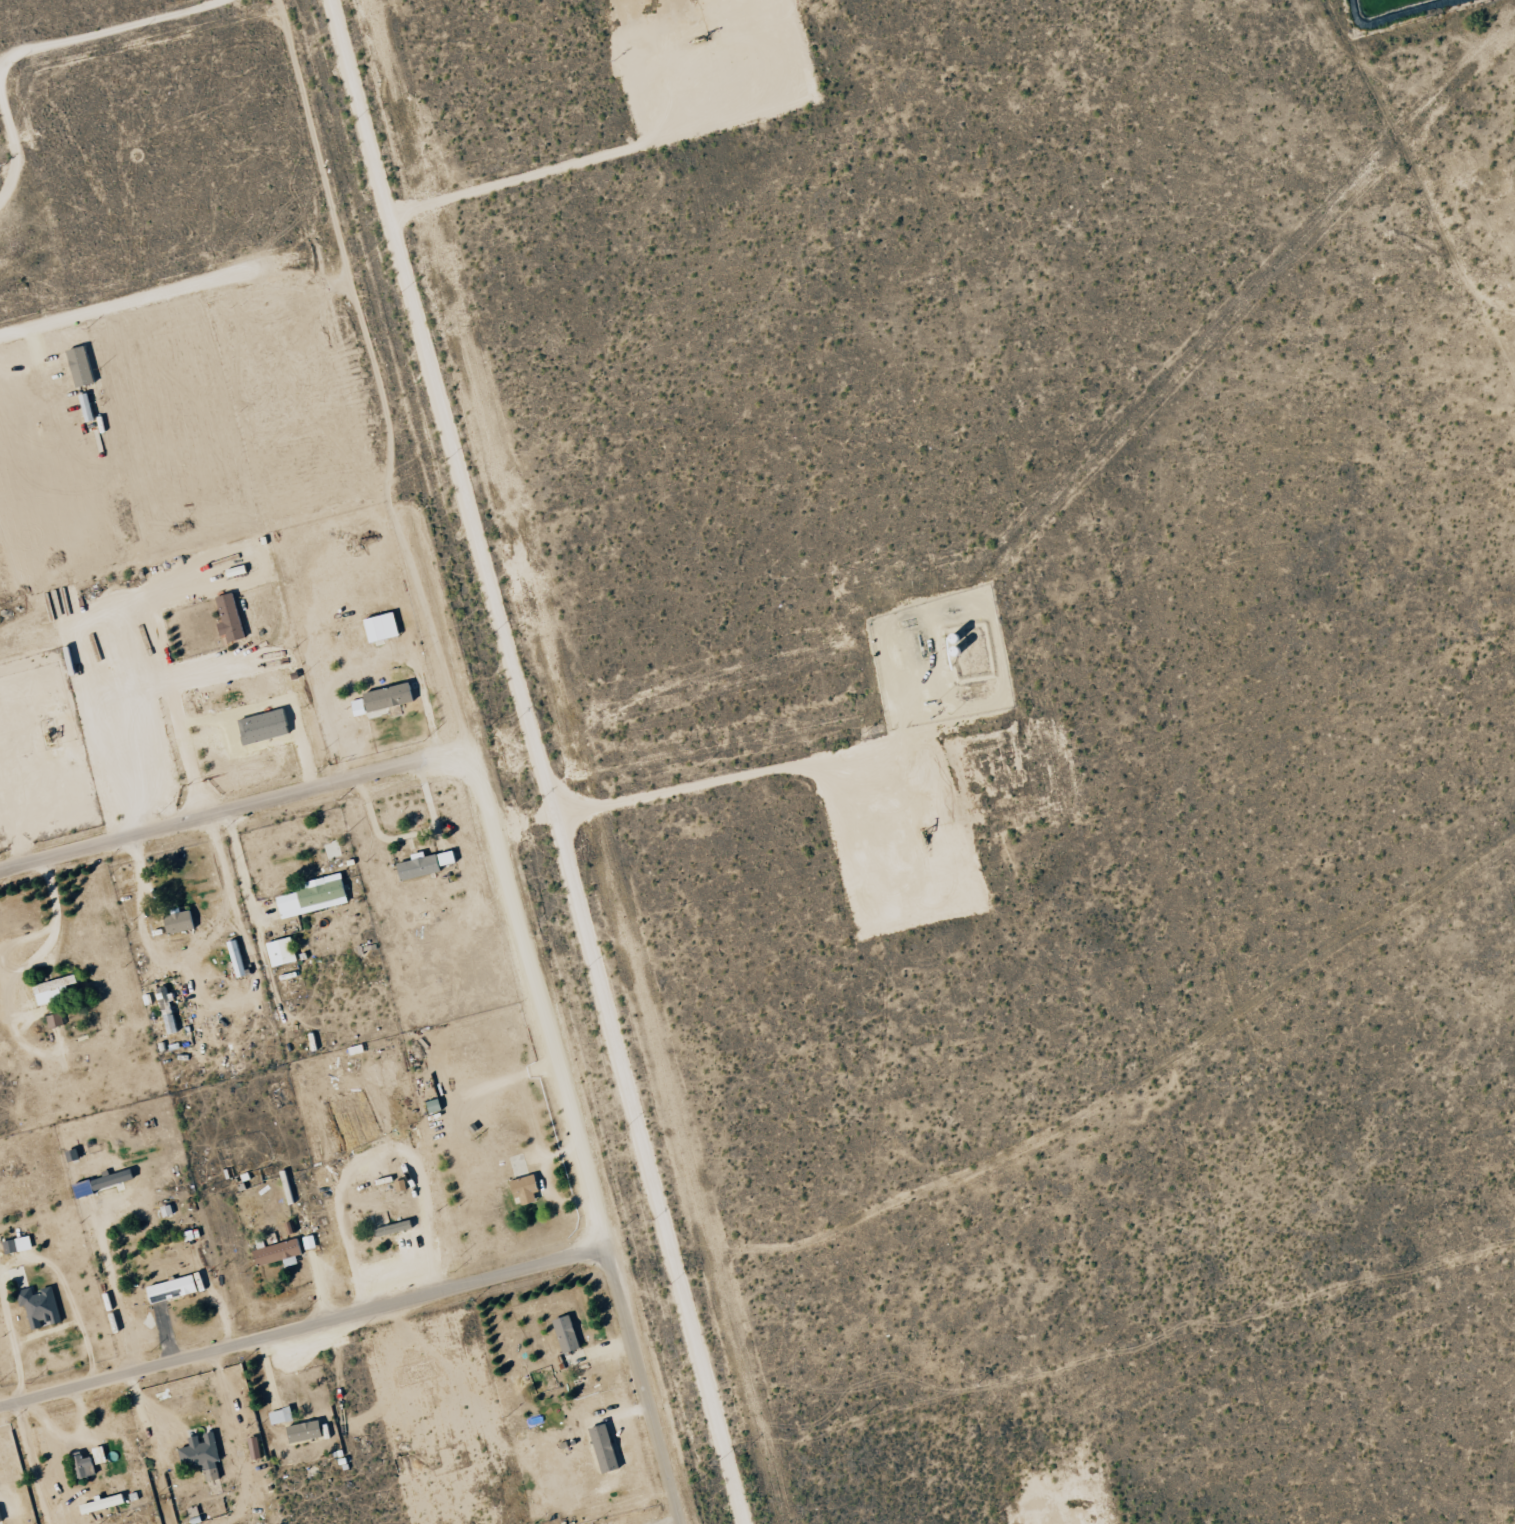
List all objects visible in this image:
petroleum well: (704, 23)
road: (170, 290)
building: (233, 618)
building: (385, 628)
road: (219, 669)
building: (386, 699)
building: (267, 727)
petroleum well: (47, 730)
road: (478, 761)
road: (546, 762)
road: (237, 809)
petroleum well: (921, 832)
road: (238, 864)
building: (427, 865)
building: (317, 896)
building: (183, 923)
building: (284, 952)
building: (239, 959)
building: (54, 990)
building: (57, 1021)
building: (430, 1105)
building: (100, 1184)
building: (521, 1188)
building: (19, 1244)
building: (275, 1253)
building: (175, 1289)
road: (303, 1325)
building: (564, 1332)
building: (600, 1448)
building: (102, 1455)
building: (204, 1455)
building: (86, 1467)
building: (106, 1504)
building: (1, 1517)

